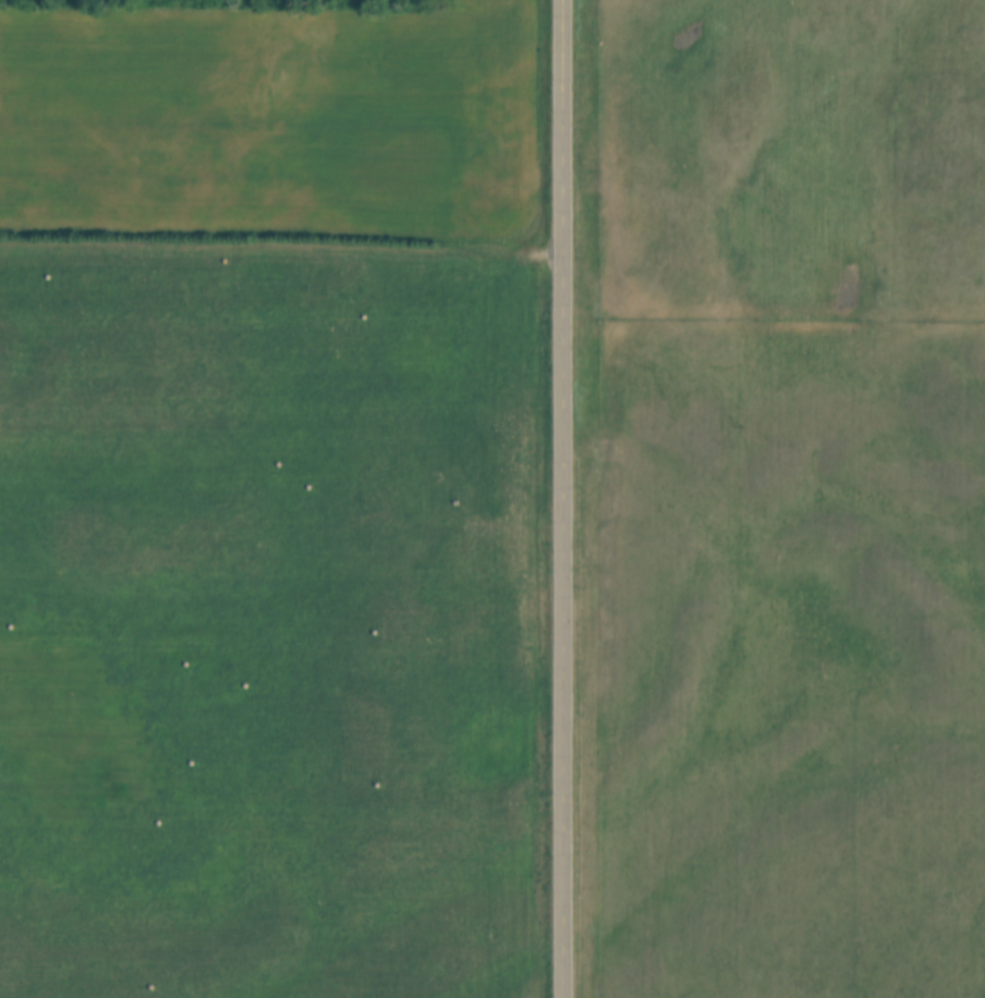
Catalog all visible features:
road: (565, 499)

